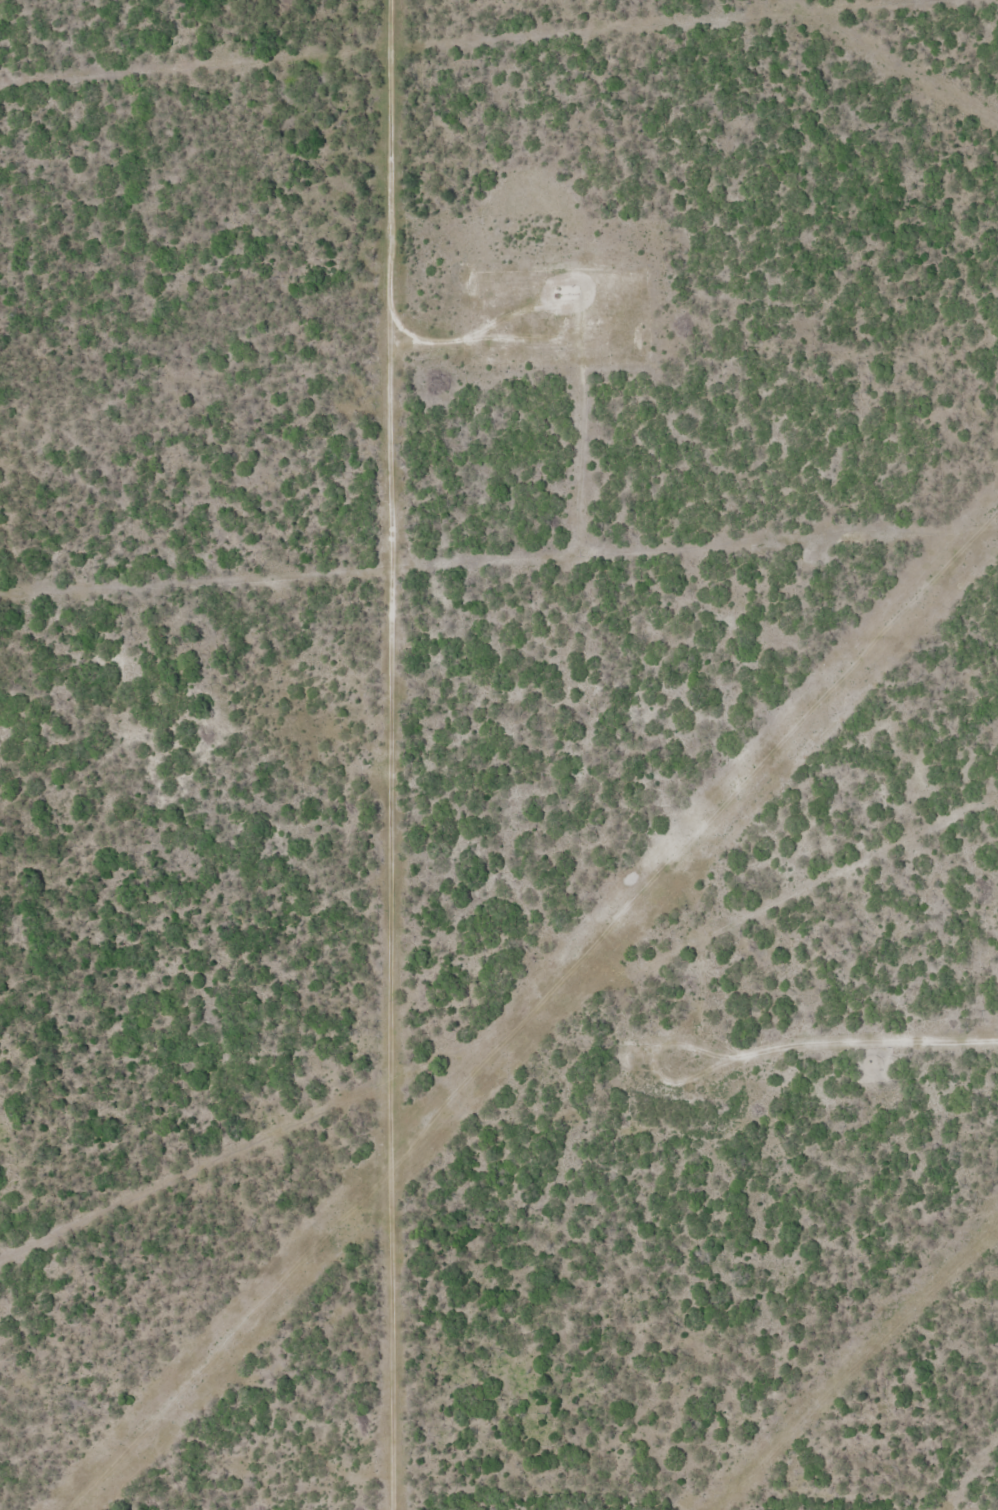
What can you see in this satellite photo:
road: (506, 339)
road: (385, 755)
road: (852, 1034)

